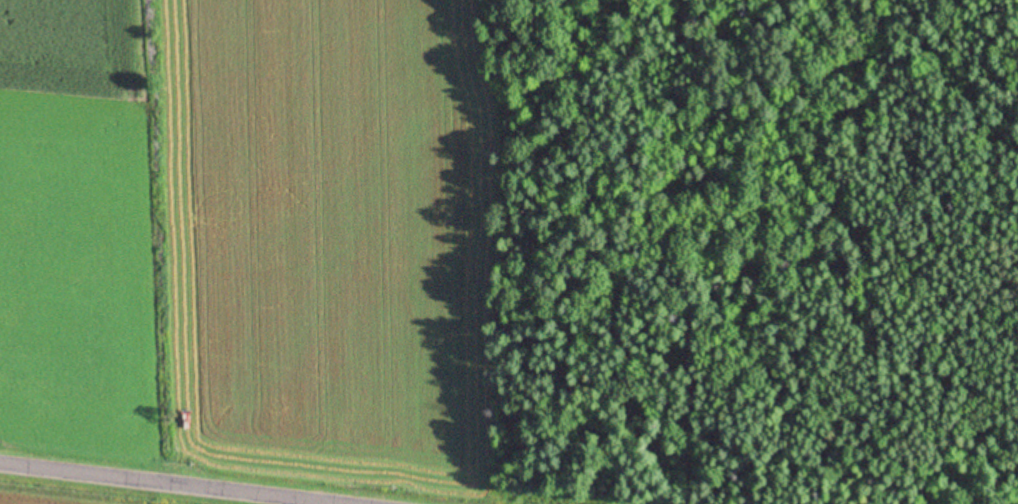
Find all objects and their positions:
road: (211, 479)

